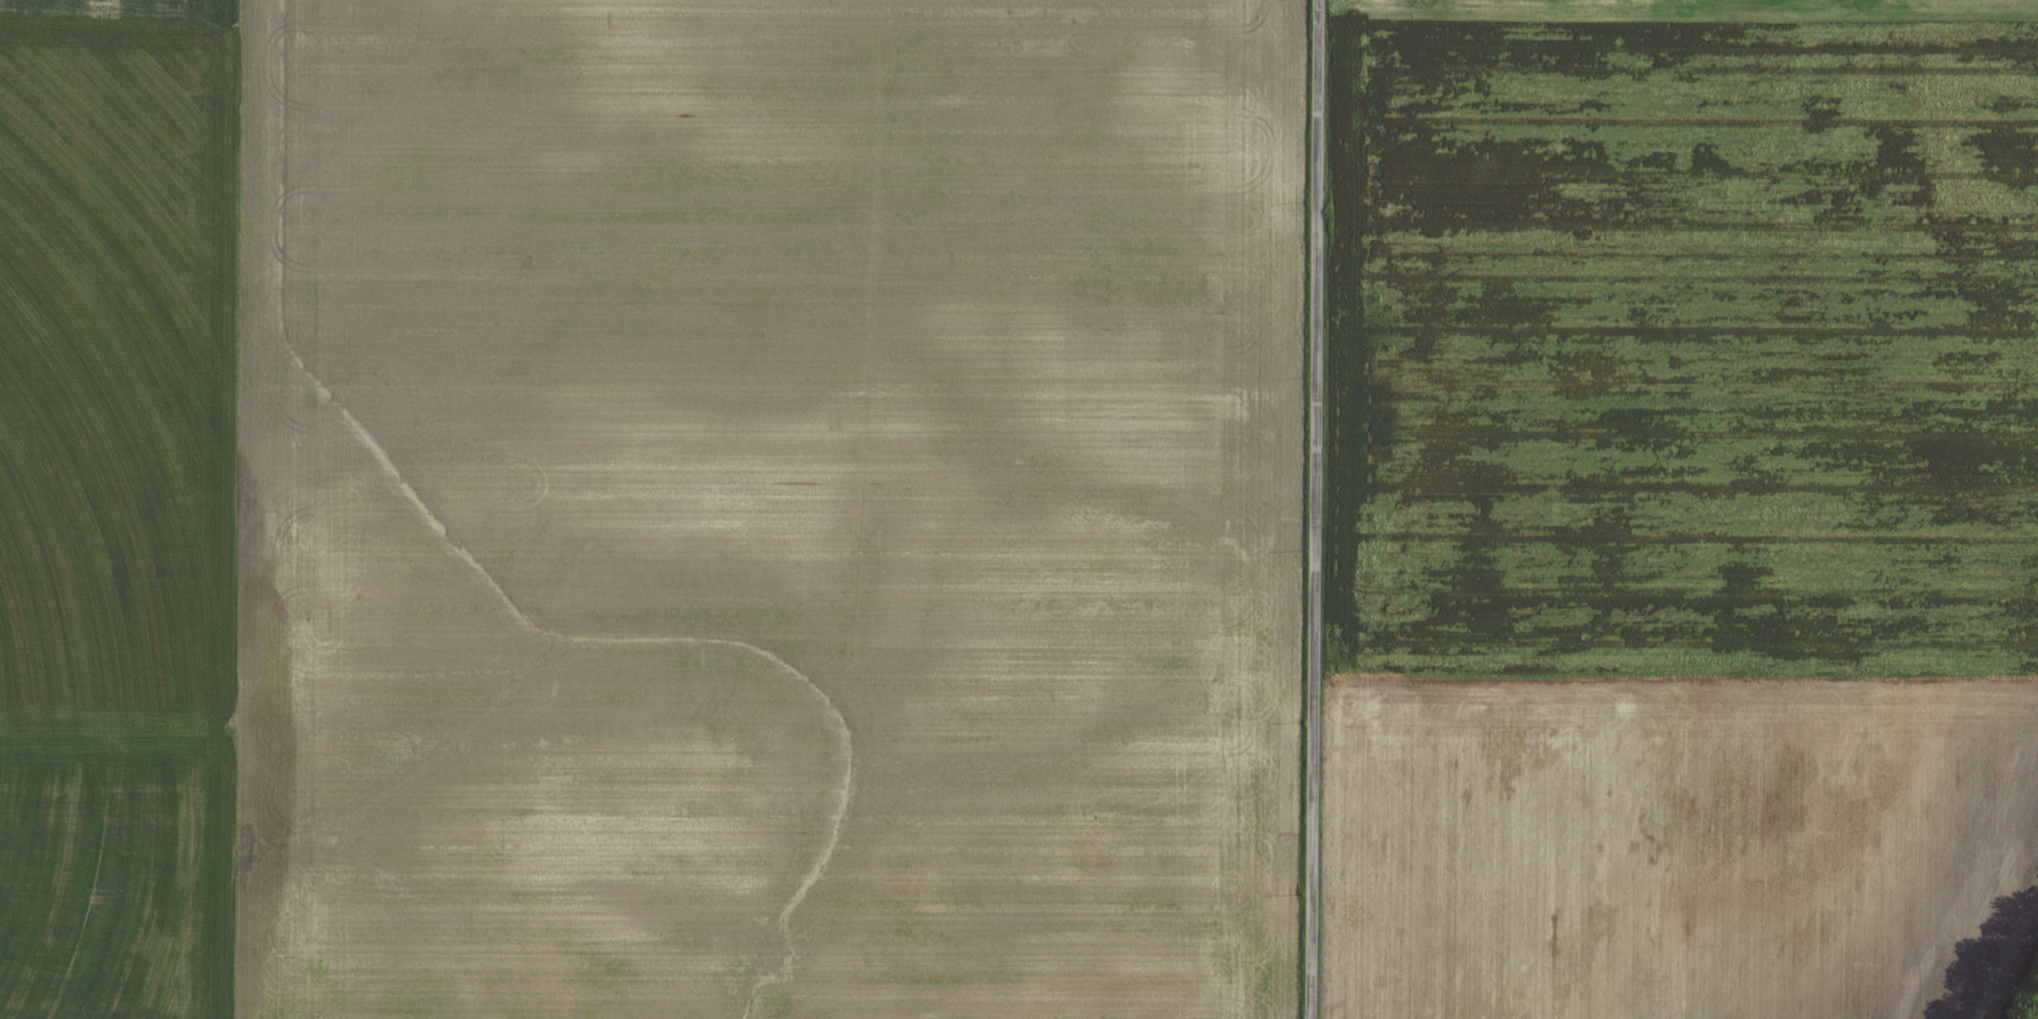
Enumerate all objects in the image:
road: (1315, 509)

